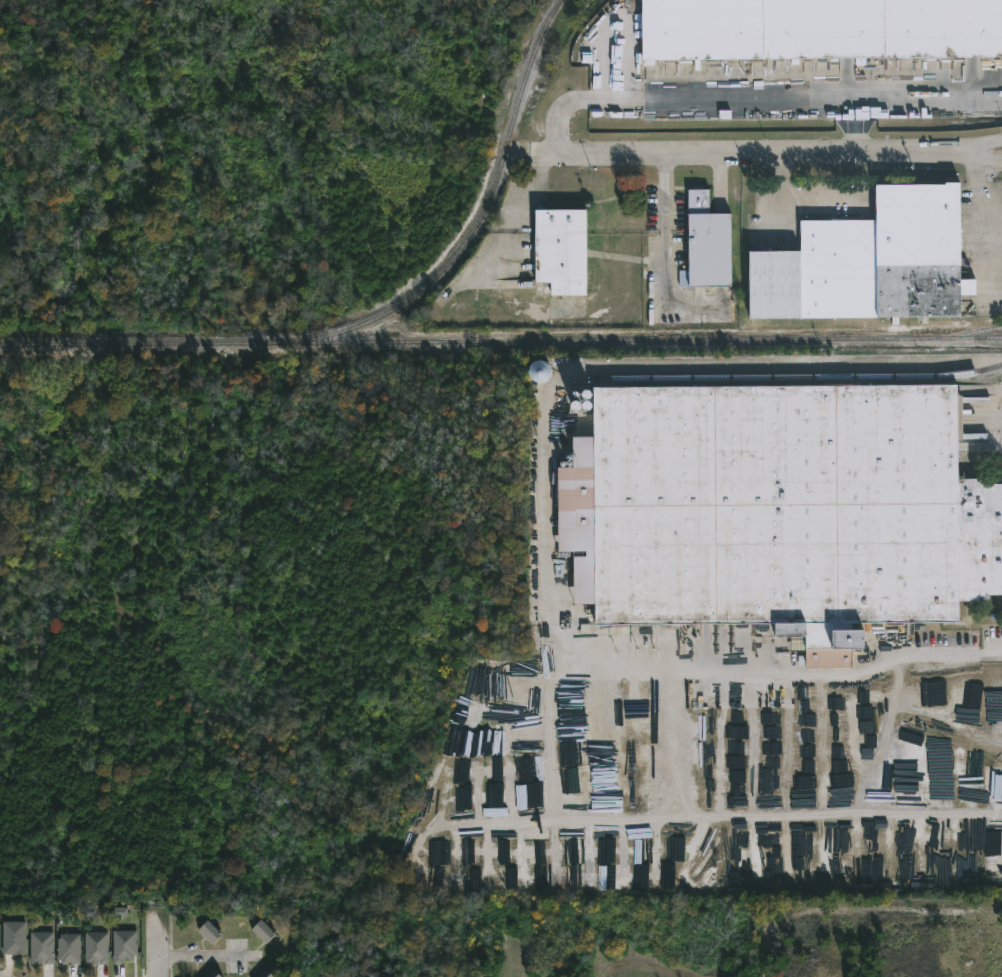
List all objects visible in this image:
building: (821, 30)
road: (795, 99)
road: (560, 118)
road: (971, 147)
road: (733, 153)
road: (971, 159)
road: (985, 224)
building: (702, 242)
building: (565, 249)
building: (863, 262)
railway: (375, 316)
railway: (962, 331)
railway: (634, 340)
road: (789, 368)
railway: (800, 377)
road: (559, 385)
building: (780, 512)
road: (641, 669)
building: (907, 781)
road: (729, 821)
building: (577, 869)
building: (577, 885)
building: (267, 931)
building: (210, 933)
building: (14, 938)
road: (159, 945)
building: (124, 946)
building: (42, 948)
building: (97, 948)
building: (71, 949)
road: (205, 955)
building: (212, 974)
building: (265, 974)

